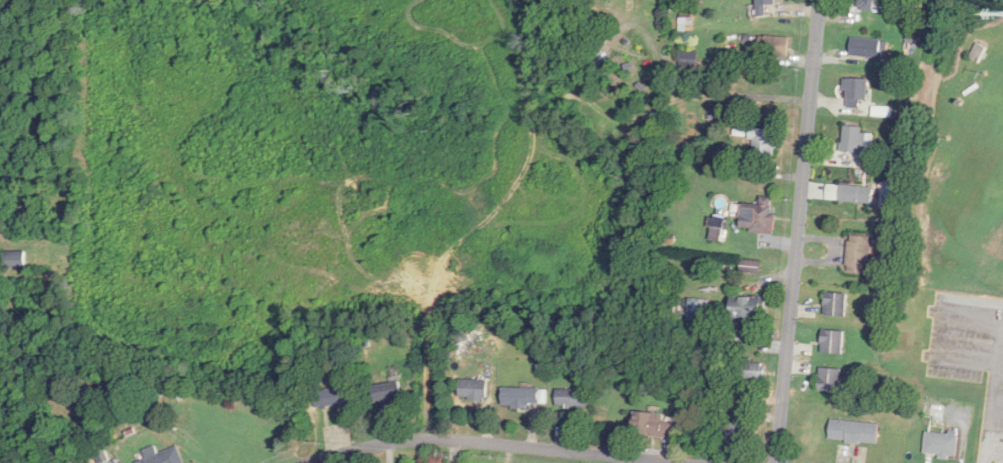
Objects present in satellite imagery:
building: (869, 5)
building: (765, 6)
building: (776, 45)
building: (867, 47)
building: (978, 52)
building: (689, 58)
building: (858, 92)
building: (855, 139)
building: (767, 142)
building: (856, 194)
building: (759, 219)
road: (798, 231)
building: (861, 255)
building: (14, 259)
building: (752, 267)
building: (838, 304)
building: (748, 308)
building: (699, 310)
building: (834, 342)
building: (832, 380)
building: (474, 389)
road: (994, 390)
building: (388, 393)
building: (524, 397)
building: (331, 398)
building: (573, 398)
building: (656, 426)
building: (741, 429)
building: (853, 431)
road: (496, 443)
building: (940, 443)
road: (991, 453)
building: (165, 456)

